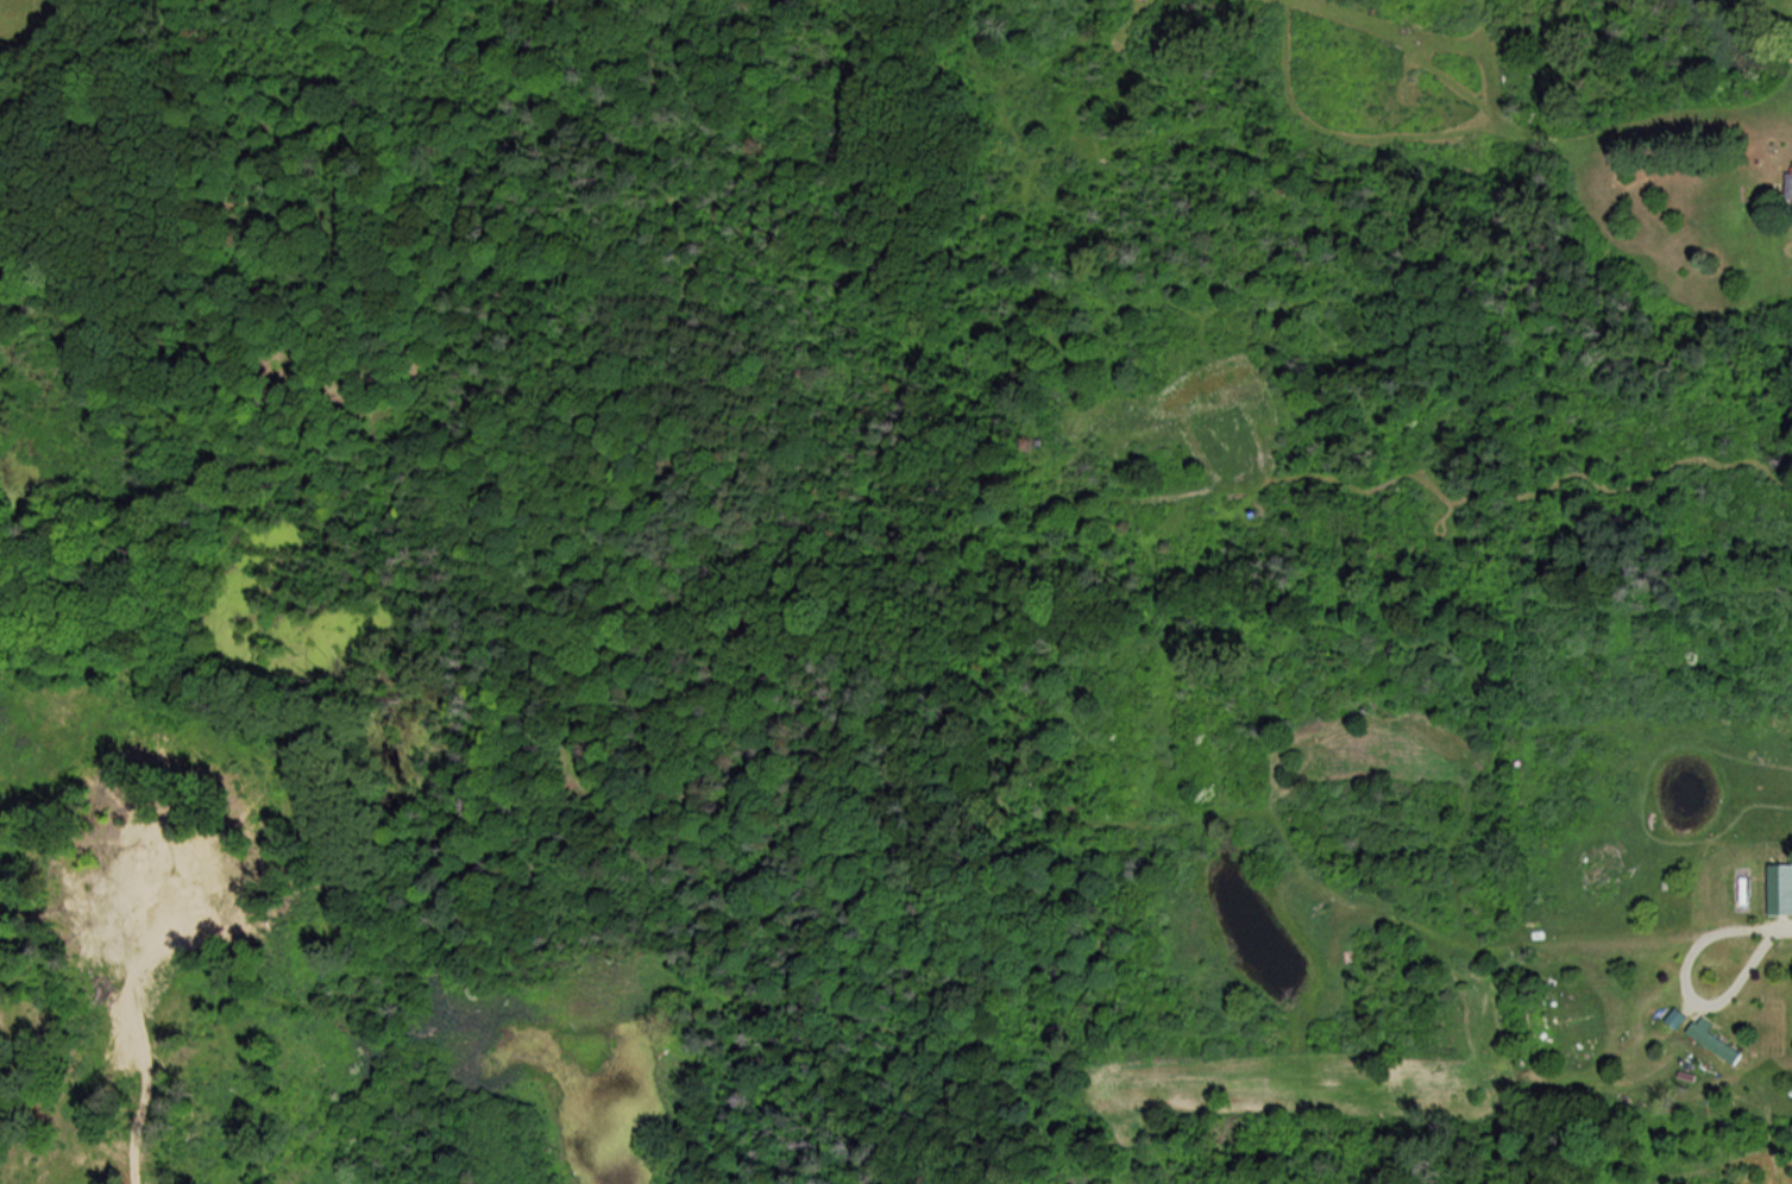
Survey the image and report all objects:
building: (1791, 187)
building: (1781, 892)
building: (1719, 1046)

